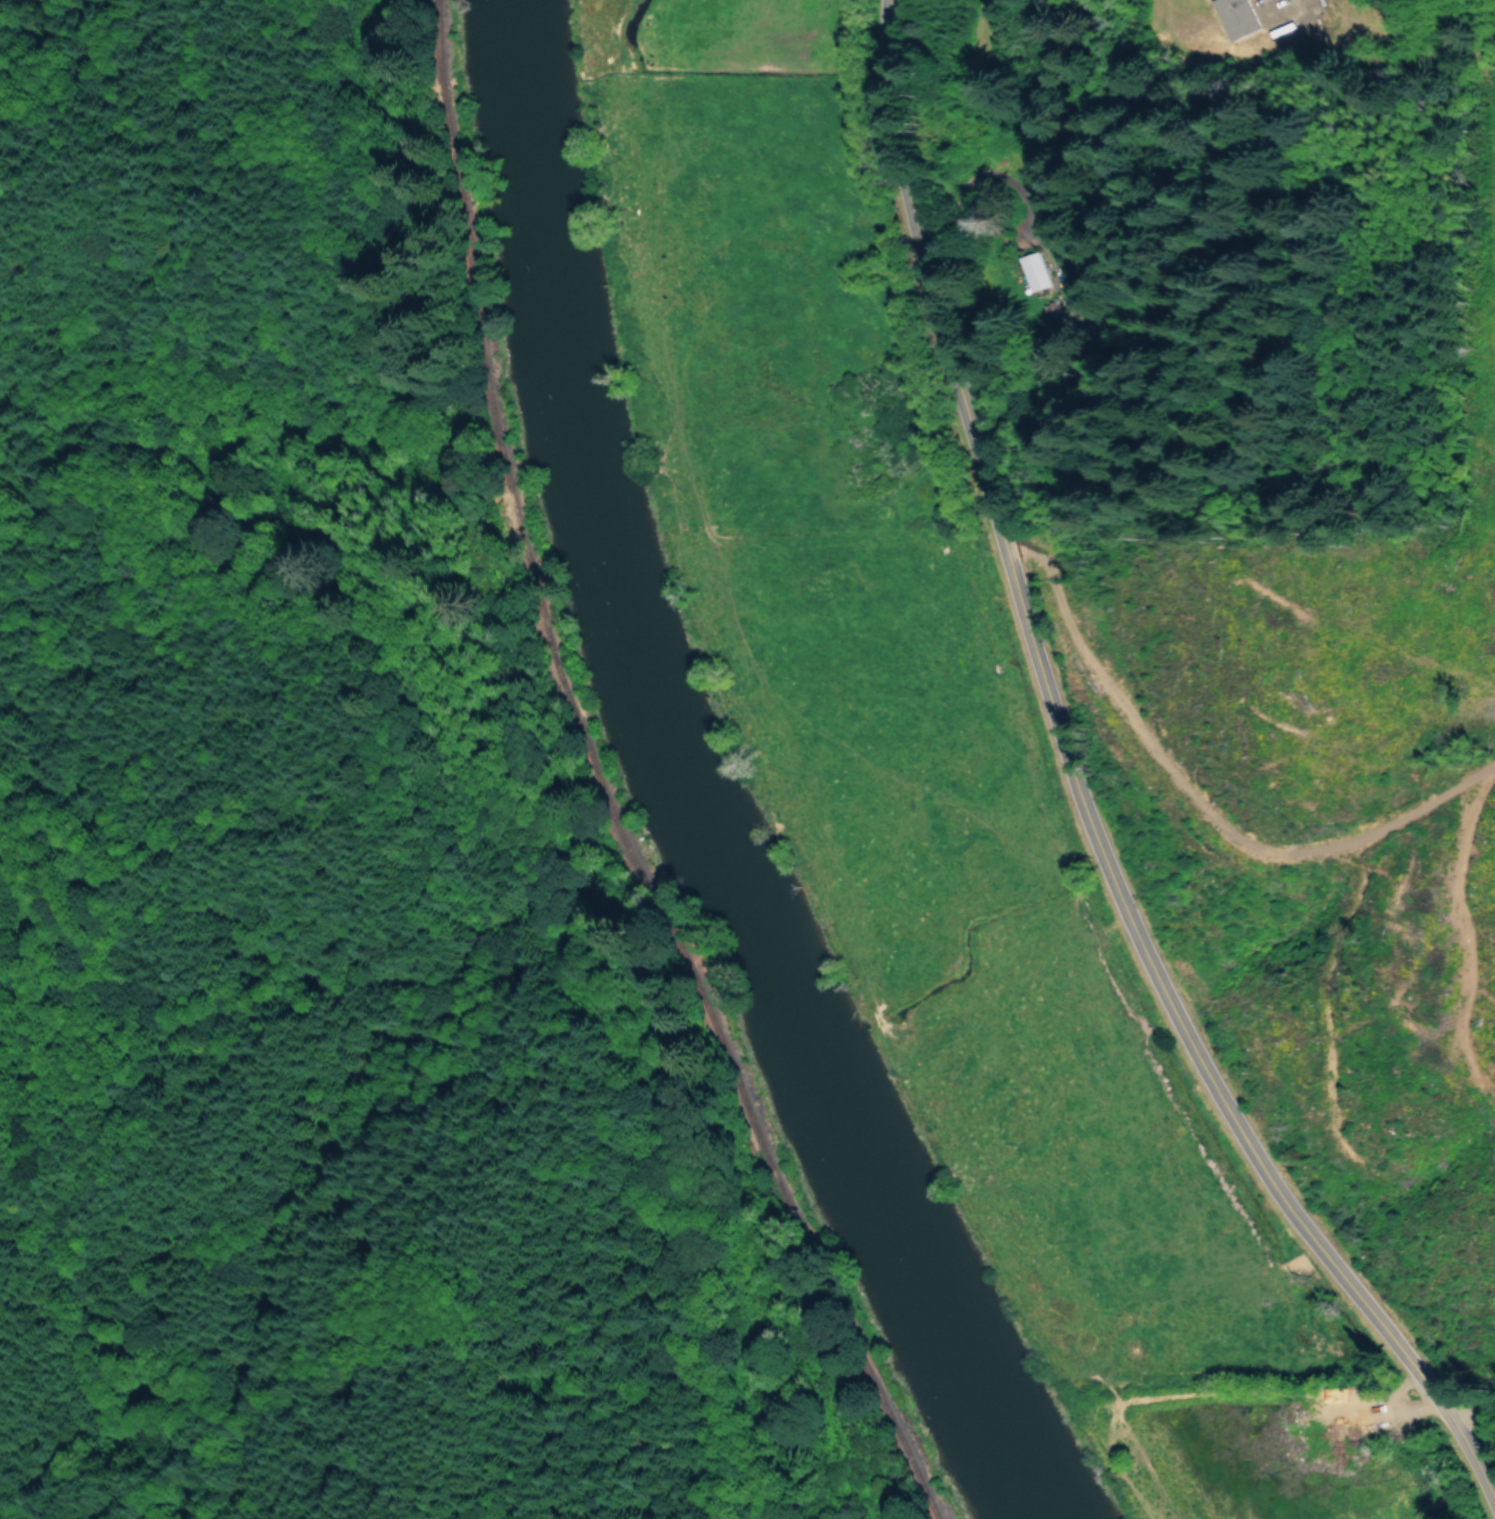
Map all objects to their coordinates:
building: (1237, 17)
building: (1033, 270)
road: (1075, 281)
road: (1089, 773)
railway: (552, 784)
river: (692, 792)
road: (1389, 1025)

